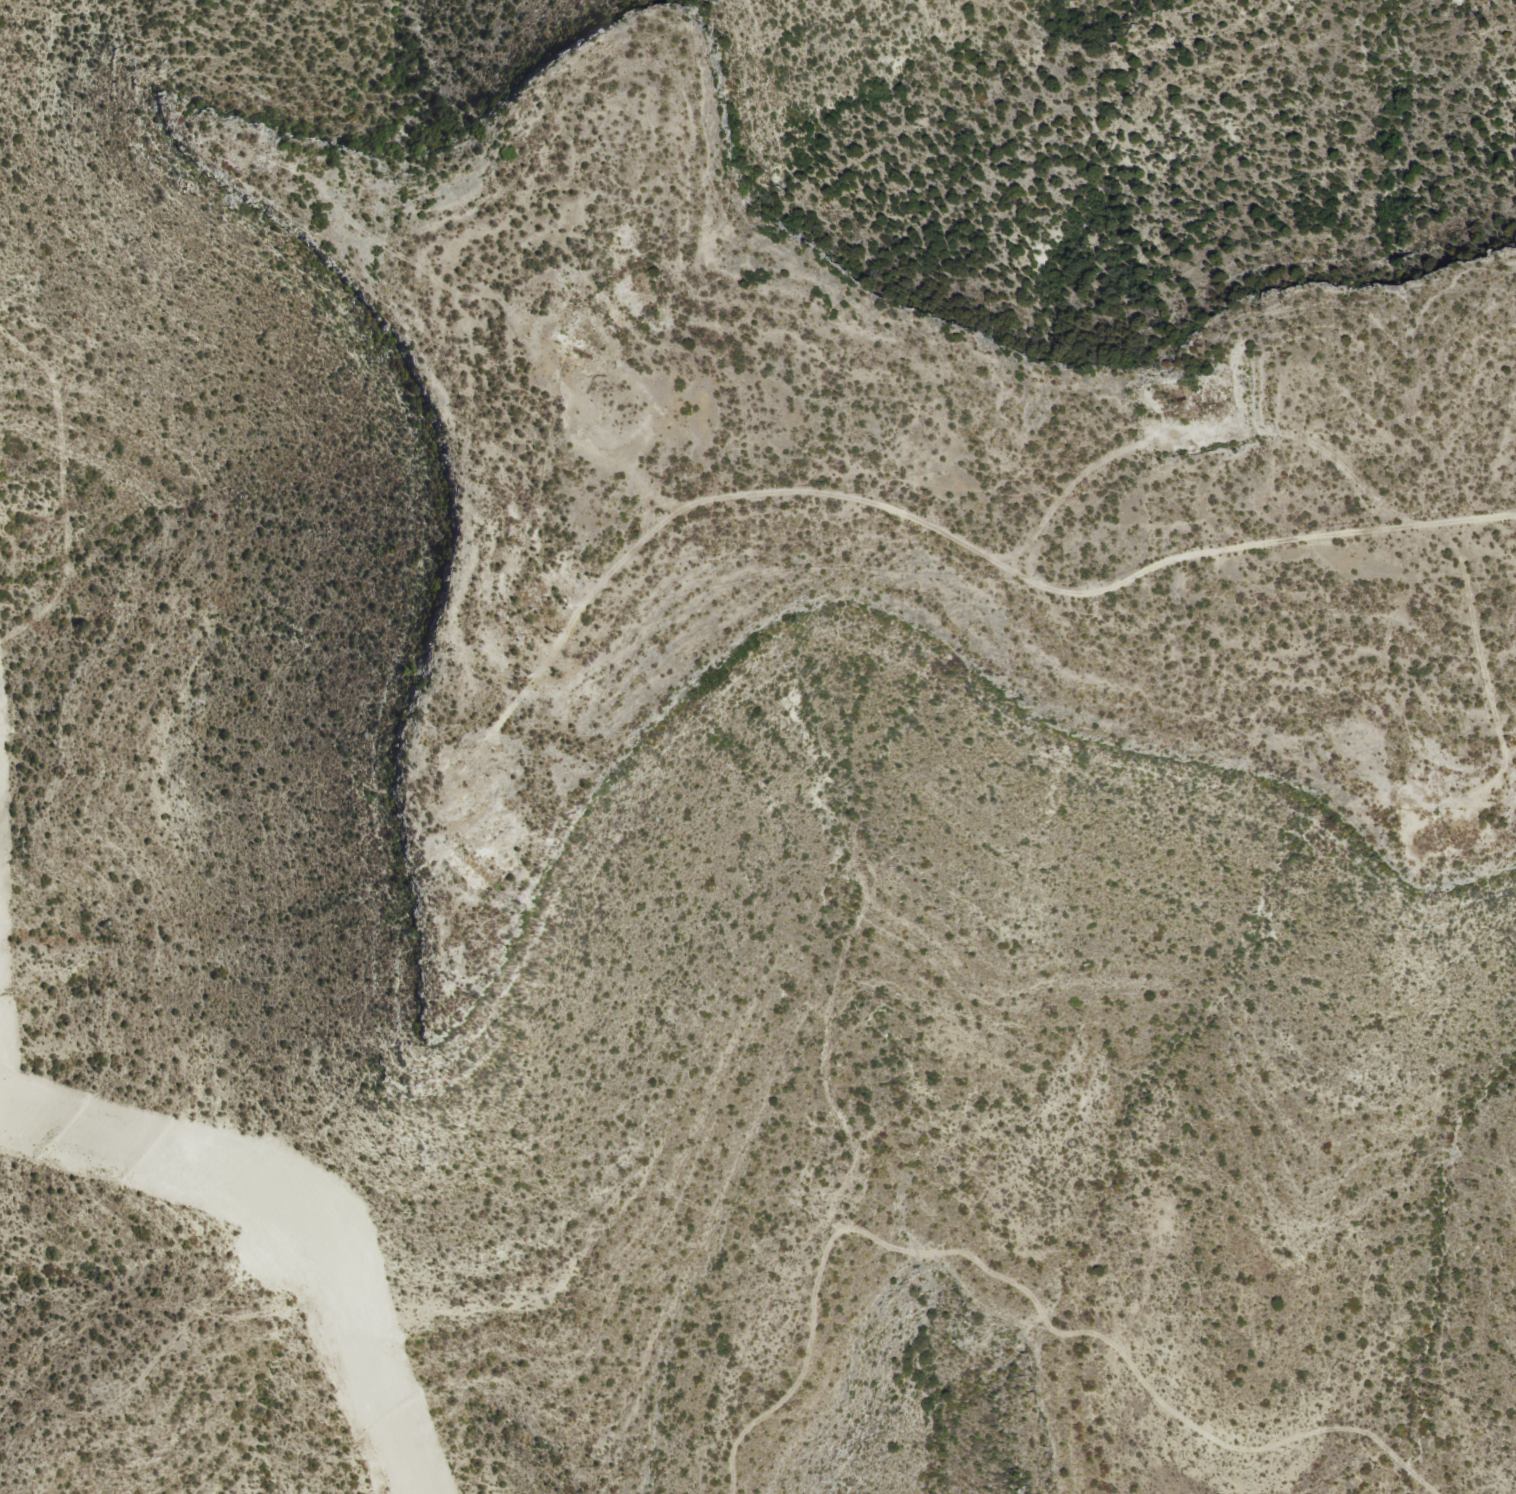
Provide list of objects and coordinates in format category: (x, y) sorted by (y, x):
road: (962, 560)

